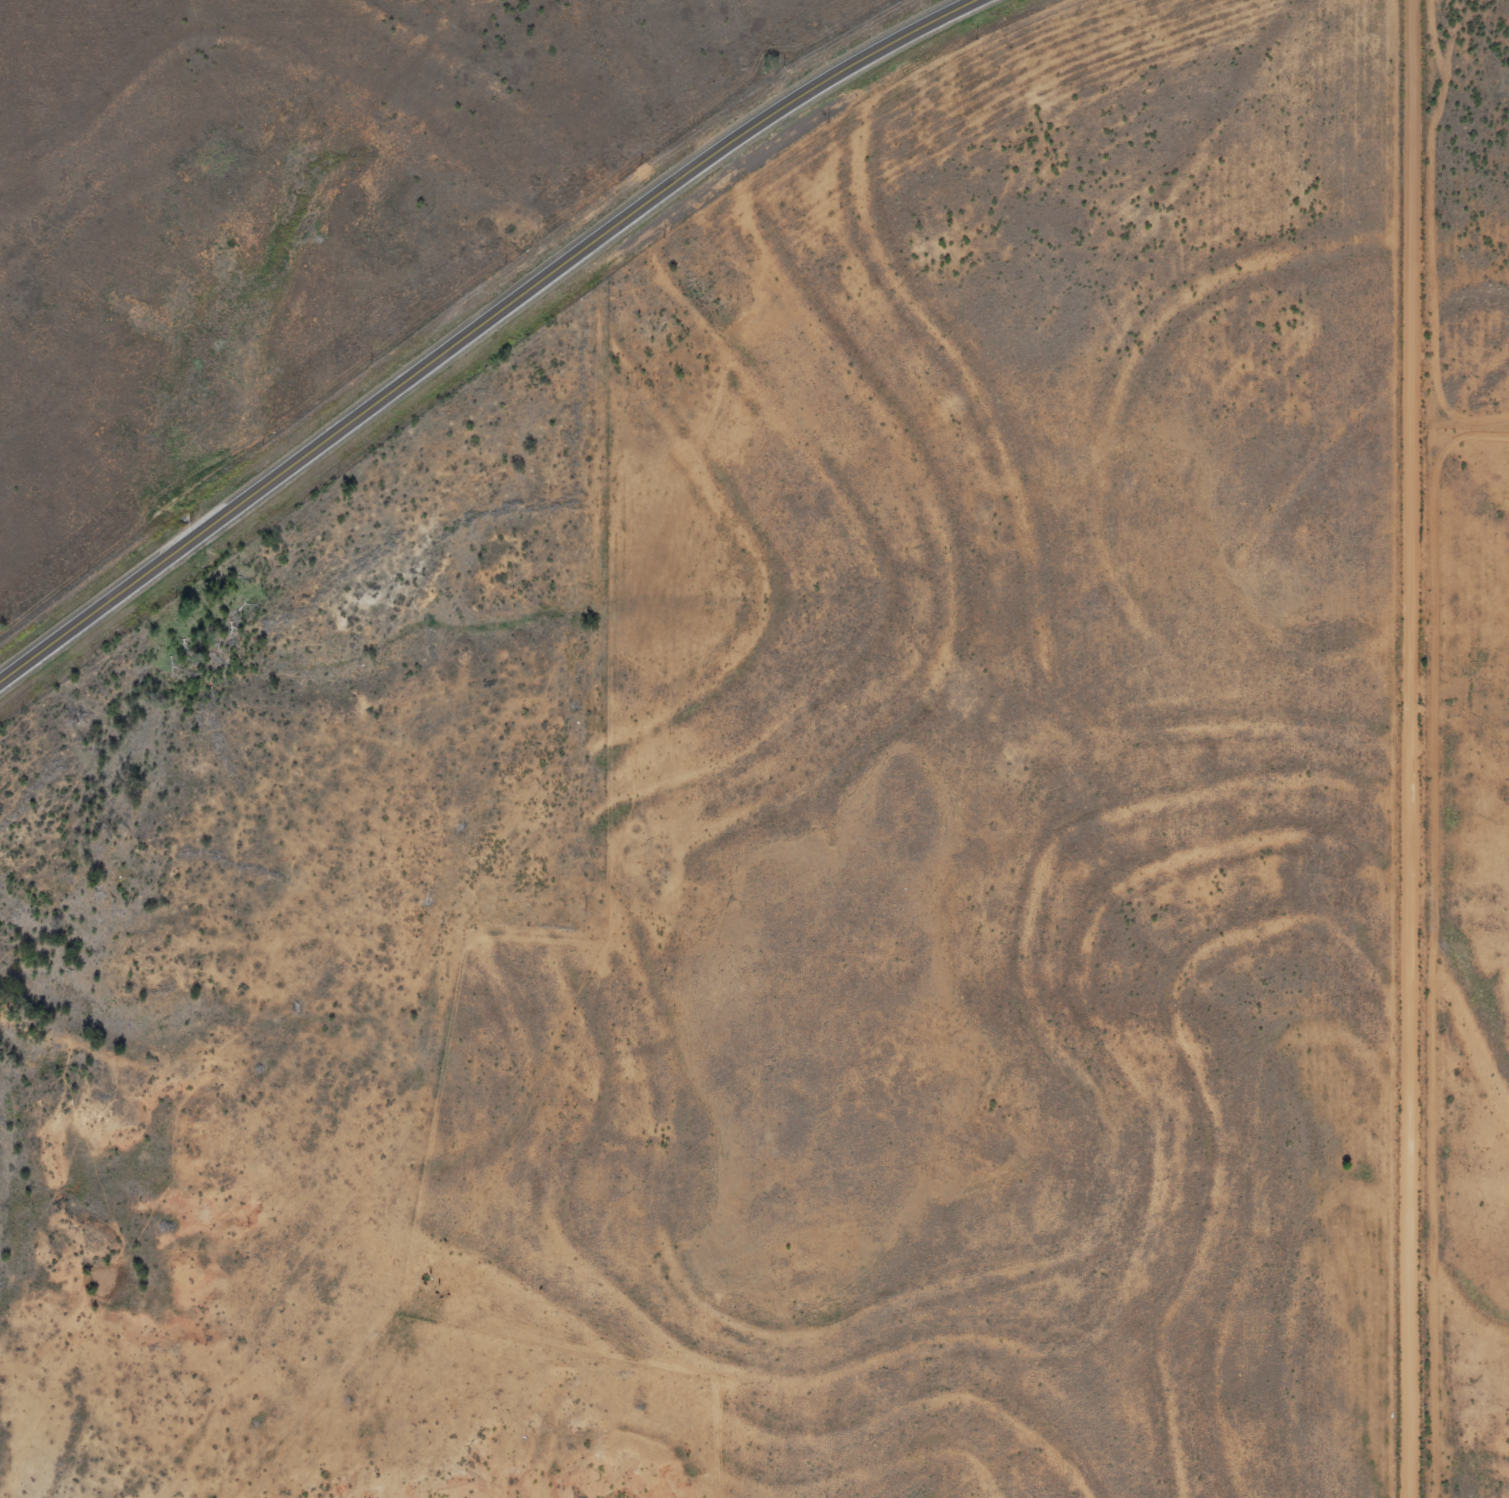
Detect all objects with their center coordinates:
road: (481, 326)
road: (1413, 748)

